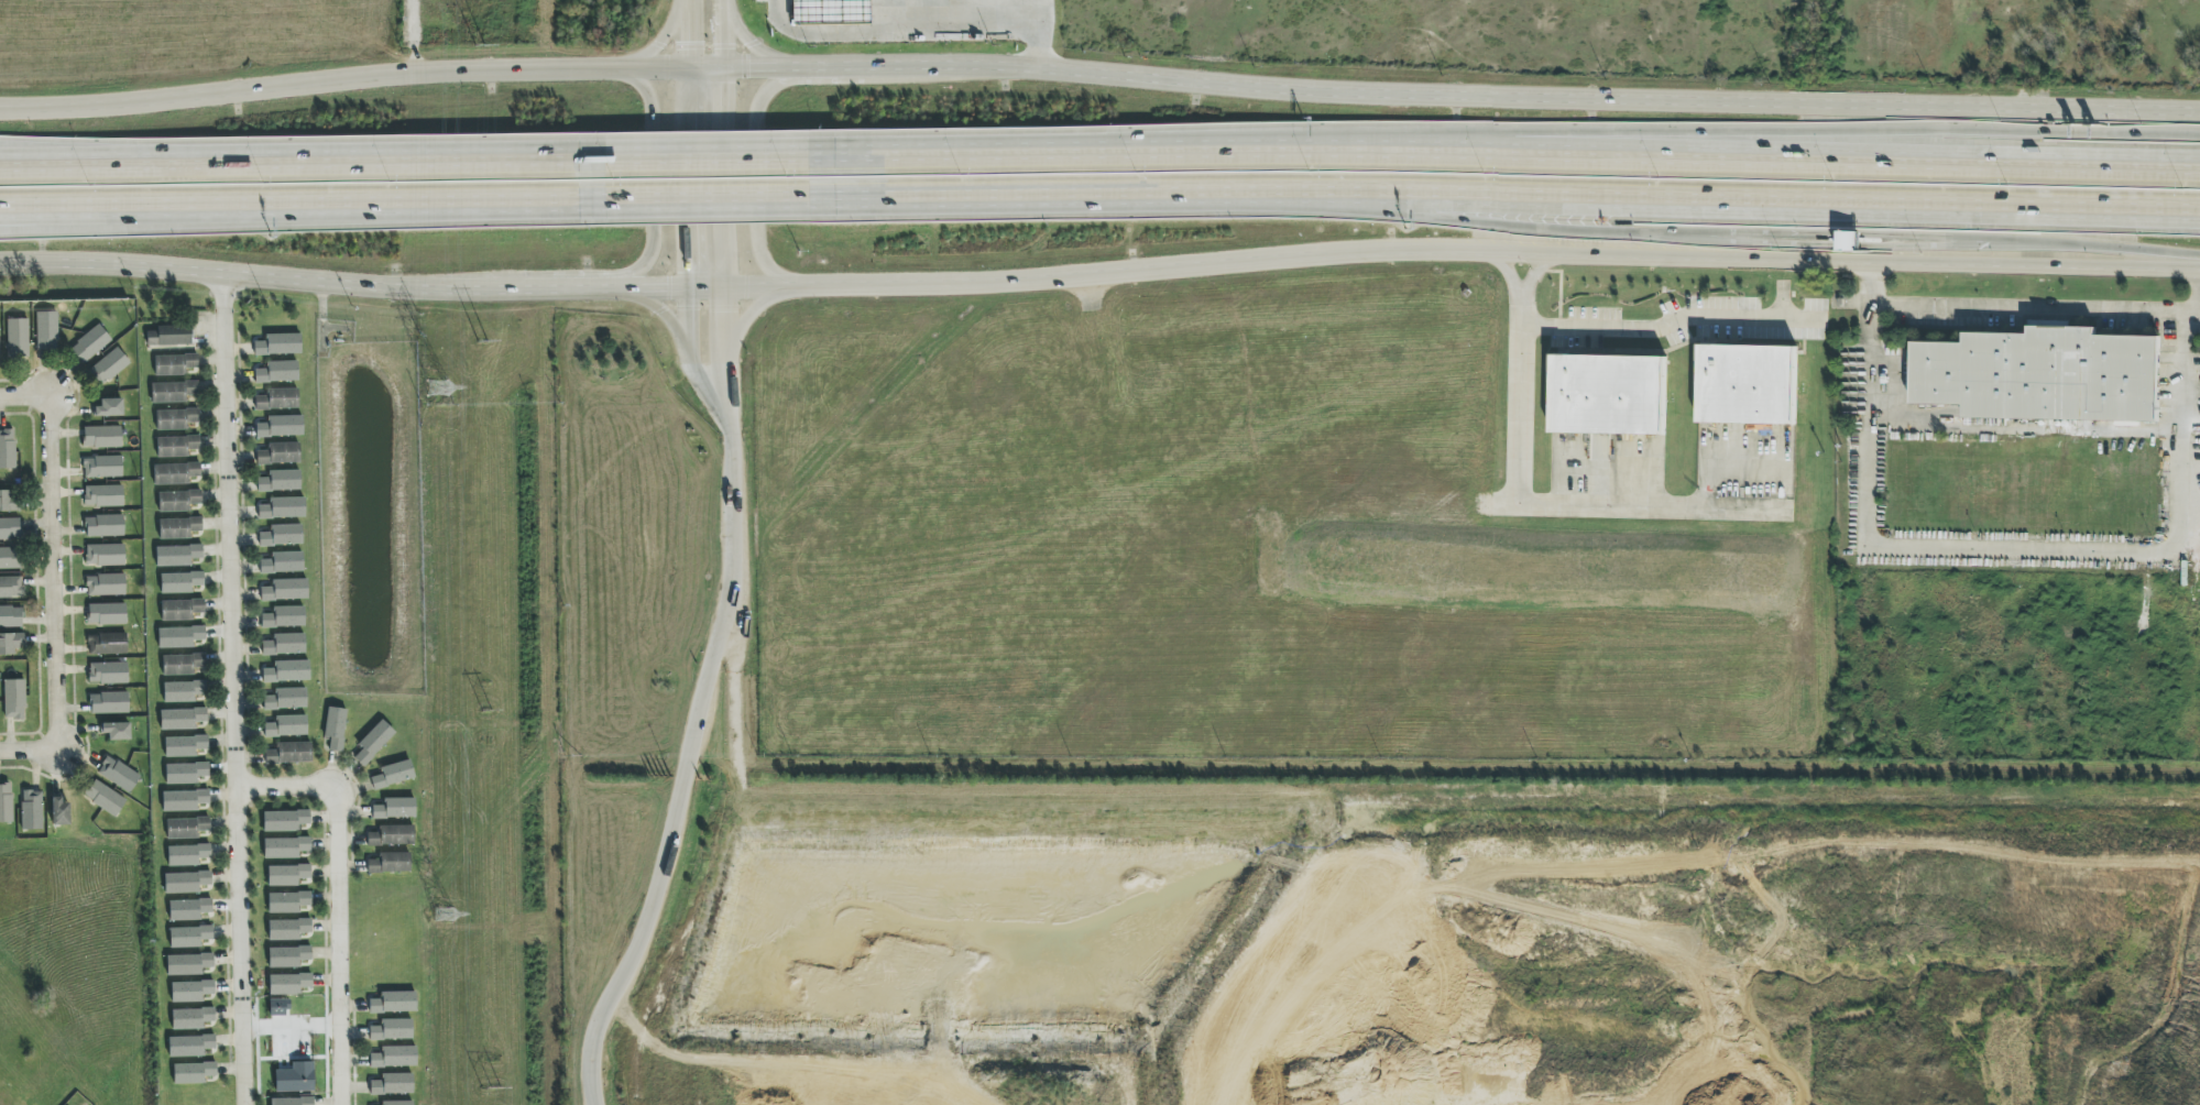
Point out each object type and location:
road: (928, 19)
road: (722, 34)
road: (909, 39)
road: (659, 44)
road: (754, 46)
road: (685, 47)
road: (1098, 79)
road: (1807, 129)
road: (703, 165)
road: (1509, 165)
road: (294, 169)
road: (723, 172)
road: (759, 179)
road: (654, 185)
road: (687, 192)
road: (703, 192)
road: (1101, 193)
road: (1791, 195)
road: (293, 197)
road: (1539, 231)
road: (1776, 238)
road: (2024, 243)
road: (1526, 255)
road: (1928, 266)
road: (1509, 272)
road: (1532, 272)
road: (1872, 284)
road: (698, 288)
road: (2197, 289)
road: (2033, 306)
road: (664, 314)
road: (747, 316)
road: (1871, 319)
road: (1670, 324)
road: (2183, 328)
building: (46, 331)
building: (168, 336)
building: (18, 338)
road: (724, 343)
building: (89, 344)
building: (278, 344)
road: (693, 355)
building: (174, 364)
building: (108, 366)
building: (277, 372)
building: (2040, 375)
building: (1747, 384)
power tower: (434, 390)
building: (173, 392)
building: (1608, 394)
road: (25, 398)
building: (277, 400)
building: (109, 408)
building: (176, 419)
building: (281, 426)
building: (102, 437)
building: (176, 446)
building: (7, 449)
building: (280, 453)
building: (102, 467)
building: (175, 473)
building: (280, 481)
building: (102, 495)
building: (178, 501)
building: (8, 502)
road: (1547, 502)
building: (283, 508)
building: (103, 526)
building: (10, 528)
building: (178, 528)
building: (282, 536)
road: (2016, 548)
building: (105, 555)
building: (177, 556)
building: (10, 558)
building: (282, 562)
road: (54, 575)
building: (179, 582)
building: (105, 584)
building: (10, 587)
building: (285, 590)
building: (180, 610)
building: (107, 614)
building: (11, 616)
building: (284, 617)
building: (179, 637)
building: (10, 643)
building: (107, 644)
building: (284, 644)
building: (183, 664)
building: (286, 671)
building: (108, 672)
road: (231, 690)
building: (183, 691)
building: (14, 699)
building: (286, 699)
building: (109, 703)
building: (182, 719)
building: (286, 726)
building: (335, 729)
building: (117, 731)
building: (373, 742)
building: (184, 746)
road: (29, 751)
building: (289, 753)
road: (687, 763)
building: (185, 773)
building: (118, 774)
building: (393, 775)
building: (103, 798)
building: (184, 800)
building: (6, 803)
building: (394, 809)
building: (31, 810)
building: (61, 812)
building: (284, 820)
building: (186, 828)
building: (391, 835)
building: (285, 847)
building: (187, 855)
building: (390, 863)
building: (286, 875)
building: (186, 882)
road: (332, 898)
building: (287, 901)
building: (188, 909)
power tower: (446, 915)
building: (287, 929)
building: (189, 937)
building: (287, 956)
building: (188, 964)
landfill: (1723, 969)
building: (288, 984)
building: (190, 991)
building: (393, 1003)
building: (191, 1018)
road: (289, 1025)
building: (392, 1030)
building: (190, 1046)
building: (394, 1058)
building: (193, 1073)
building: (392, 1084)
building: (292, 1102)
building: (397, 1103)

